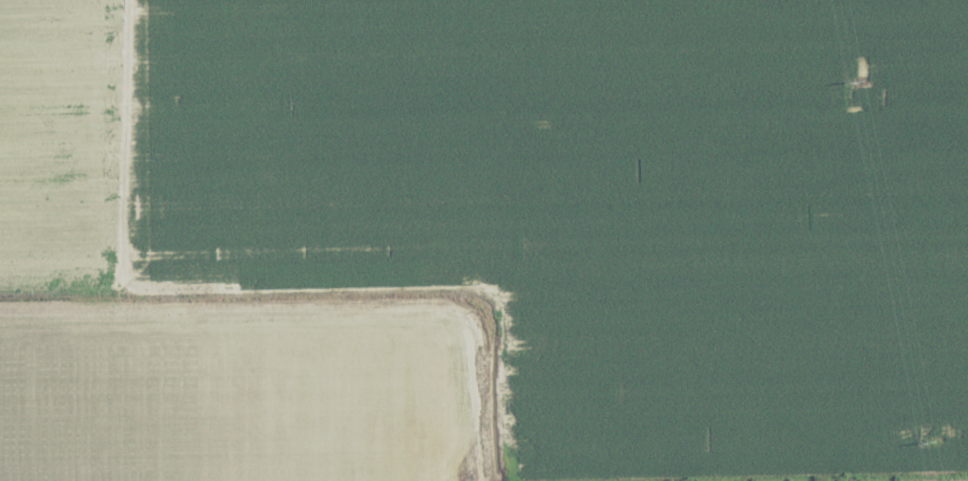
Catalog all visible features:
power tower: (859, 80)
power tower: (933, 440)

